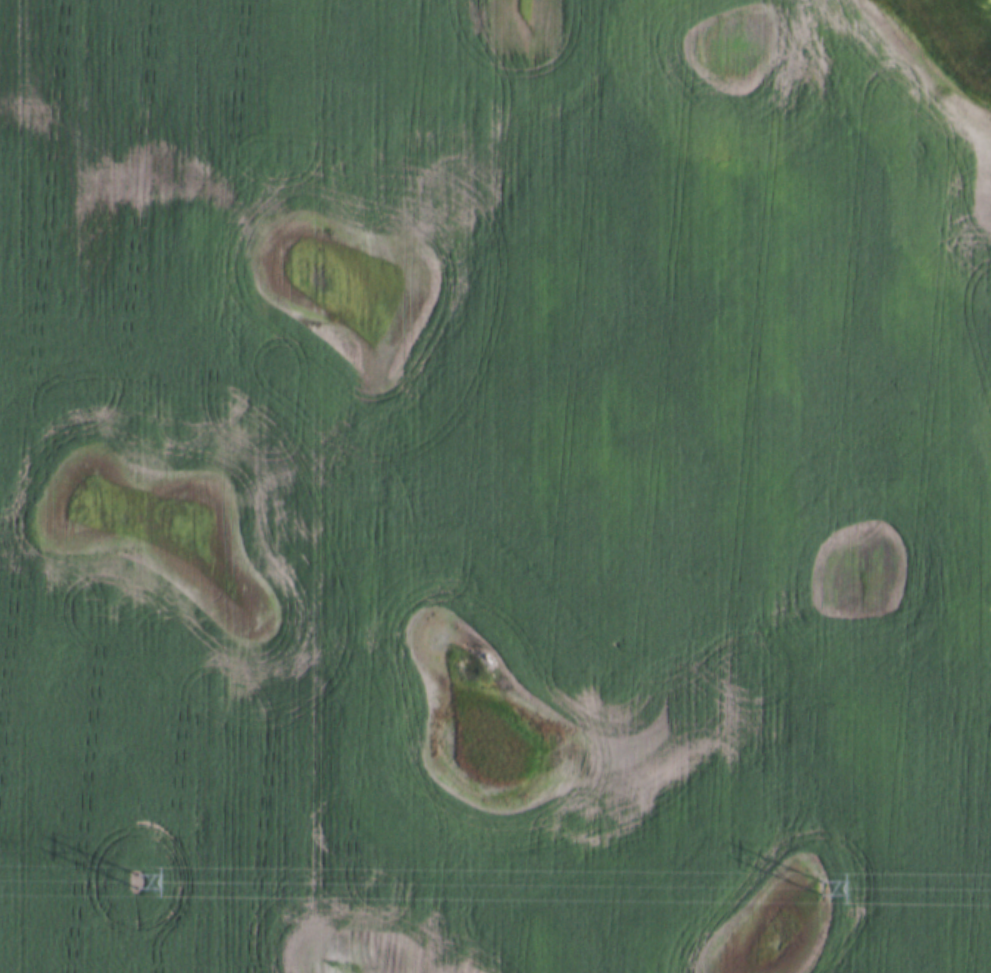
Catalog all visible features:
power tower: (137, 878)
power tower: (819, 885)

